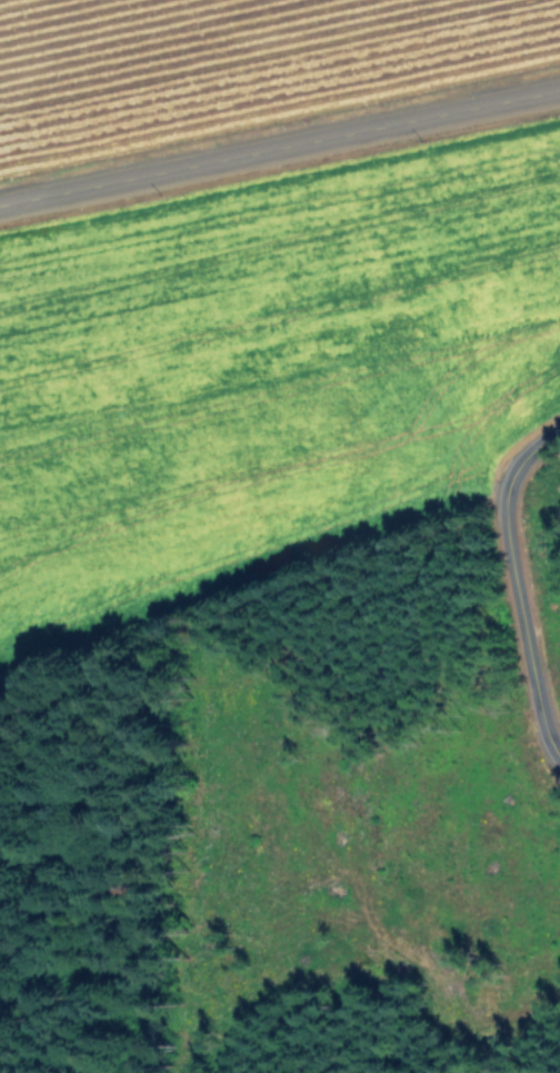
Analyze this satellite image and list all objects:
road: (280, 137)
crop: (258, 288)
road: (503, 587)

